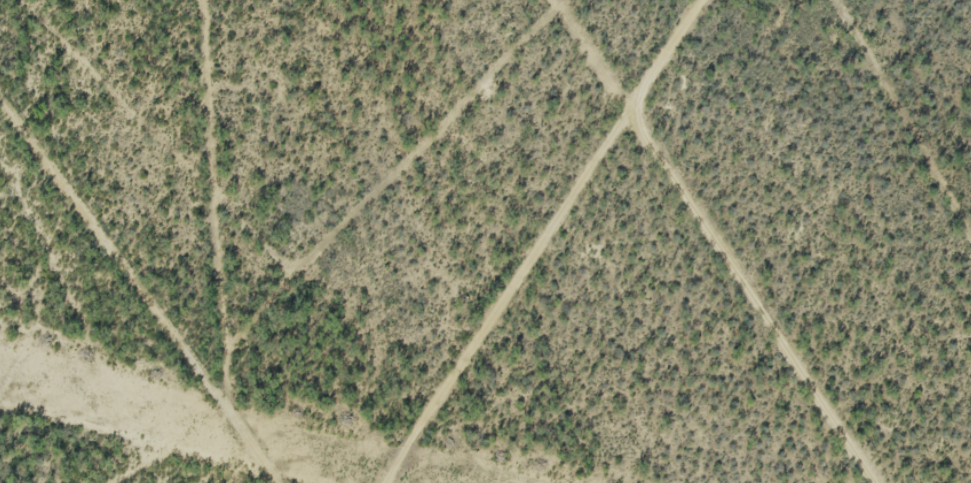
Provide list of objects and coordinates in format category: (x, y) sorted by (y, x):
road: (488, 226)

